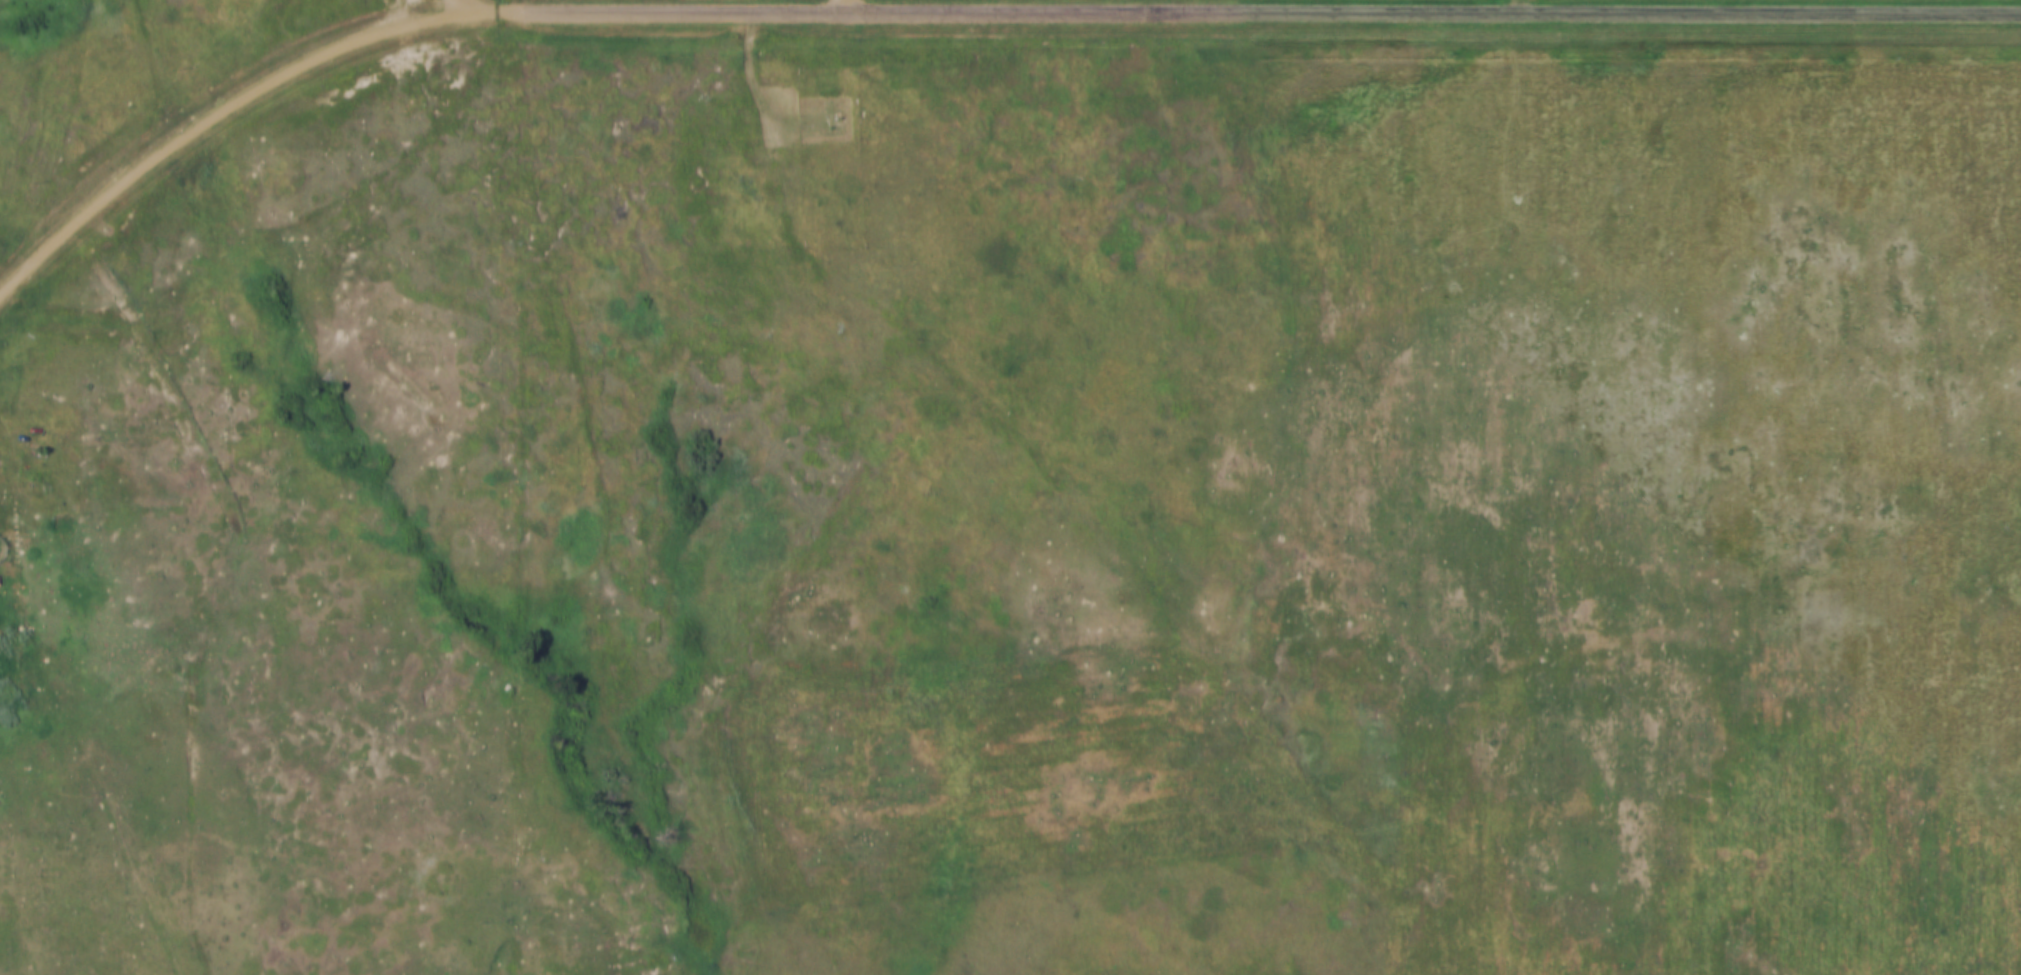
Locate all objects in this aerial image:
road: (846, 6)
road: (460, 7)
road: (1257, 13)
road: (224, 106)

